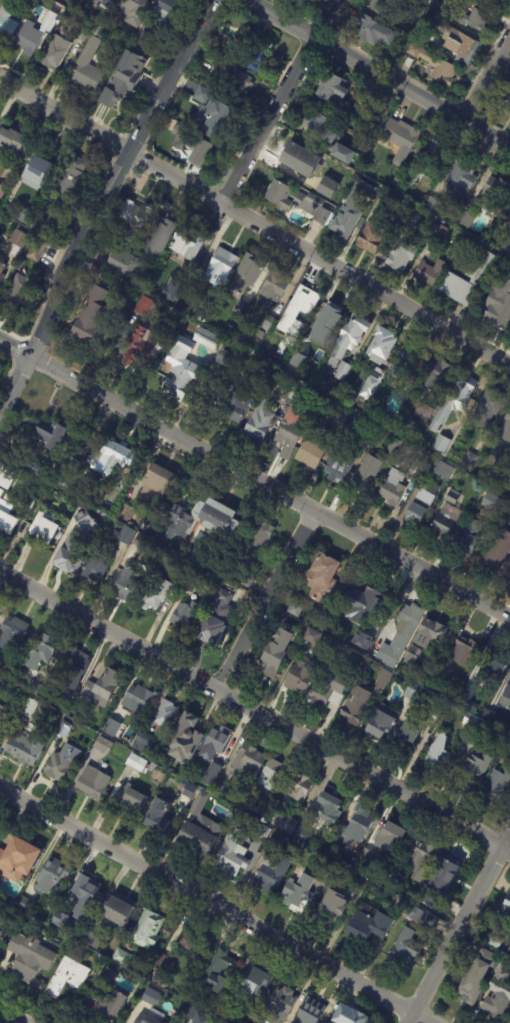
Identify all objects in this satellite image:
building: (114, 0)
building: (40, 1)
building: (451, 1)
building: (492, 1)
building: (424, 2)
building: (297, 3)
building: (378, 6)
building: (164, 9)
building: (132, 10)
building: (419, 13)
building: (6, 18)
building: (474, 21)
building: (48, 22)
building: (373, 32)
building: (82, 35)
building: (421, 38)
building: (28, 40)
building: (92, 41)
building: (144, 42)
building: (461, 45)
building: (413, 52)
building: (56, 53)
building: (253, 53)
building: (129, 66)
building: (438, 70)
road: (383, 73)
building: (87, 76)
building: (233, 79)
building: (508, 80)
road: (488, 82)
building: (331, 88)
building: (117, 92)
road: (279, 99)
building: (386, 100)
building: (508, 104)
building: (213, 111)
building: (376, 123)
building: (325, 133)
building: (400, 140)
building: (13, 142)
building: (365, 144)
building: (192, 145)
building: (435, 155)
building: (309, 164)
building: (39, 166)
building: (461, 174)
road: (120, 177)
building: (405, 179)
building: (70, 180)
building: (362, 189)
building: (2, 190)
building: (494, 195)
building: (298, 199)
building: (434, 206)
building: (507, 209)
building: (399, 211)
building: (23, 216)
road: (256, 217)
building: (412, 217)
building: (348, 220)
building: (130, 221)
building: (467, 221)
building: (45, 224)
building: (440, 231)
building: (157, 236)
building: (18, 238)
building: (371, 238)
building: (186, 243)
building: (506, 244)
building: (38, 250)
building: (1, 254)
building: (401, 255)
building: (122, 264)
building: (428, 269)
building: (1, 272)
building: (248, 274)
building: (217, 276)
building: (453, 279)
building: (172, 287)
building: (275, 287)
building: (18, 291)
building: (499, 305)
building: (144, 306)
building: (239, 309)
building: (299, 309)
building: (89, 316)
building: (201, 317)
building: (328, 318)
building: (265, 324)
building: (350, 335)
building: (205, 336)
building: (277, 344)
building: (140, 345)
building: (382, 346)
building: (225, 357)
building: (404, 360)
building: (293, 364)
building: (180, 375)
building: (434, 375)
building: (339, 376)
building: (280, 377)
road: (14, 383)
building: (369, 388)
building: (274, 389)
building: (272, 396)
building: (290, 397)
building: (454, 400)
building: (236, 404)
building: (489, 408)
building: (274, 409)
building: (373, 412)
building: (423, 413)
building: (259, 421)
building: (356, 422)
building: (338, 423)
building: (291, 424)
building: (406, 428)
building: (505, 429)
building: (51, 436)
building: (441, 443)
building: (394, 446)
building: (311, 452)
building: (112, 458)
building: (420, 459)
building: (470, 459)
building: (503, 460)
building: (339, 465)
building: (441, 467)
building: (37, 468)
building: (367, 473)
building: (6, 474)
building: (158, 477)
building: (66, 479)
road: (254, 479)
building: (393, 487)
building: (0, 490)
building: (452, 497)
building: (490, 499)
building: (422, 503)
building: (6, 517)
building: (201, 518)
building: (445, 519)
building: (84, 520)
building: (503, 524)
building: (43, 526)
building: (123, 534)
building: (156, 535)
building: (468, 536)
building: (259, 542)
building: (495, 549)
building: (68, 553)
building: (97, 562)
building: (507, 573)
building: (322, 578)
building: (192, 582)
building: (125, 589)
building: (158, 590)
building: (375, 595)
road: (265, 602)
building: (346, 604)
building: (295, 608)
building: (186, 615)
building: (216, 620)
building: (12, 631)
building: (429, 632)
building: (399, 634)
building: (311, 635)
building: (368, 635)
building: (363, 643)
building: (463, 650)
building: (40, 652)
building: (275, 653)
building: (411, 654)
building: (497, 664)
building: (72, 666)
building: (439, 672)
building: (383, 678)
building: (299, 679)
building: (101, 686)
building: (34, 687)
building: (507, 689)
building: (328, 690)
building: (412, 691)
building: (135, 698)
building: (465, 698)
building: (67, 703)
building: (355, 703)
building: (509, 704)
building: (27, 706)
building: (442, 706)
road: (254, 712)
building: (4, 717)
building: (487, 717)
building: (469, 719)
building: (381, 721)
building: (157, 723)
building: (111, 728)
building: (63, 729)
building: (409, 730)
building: (184, 737)
building: (507, 741)
building: (103, 745)
building: (25, 749)
building: (215, 751)
building: (438, 751)
building: (505, 753)
building: (60, 762)
building: (249, 762)
building: (139, 763)
building: (474, 768)
building: (269, 781)
building: (92, 782)
building: (496, 782)
building: (299, 787)
building: (221, 788)
building: (188, 789)
building: (127, 803)
building: (328, 809)
building: (158, 816)
building: (264, 819)
building: (282, 821)
building: (355, 827)
building: (197, 829)
building: (258, 830)
building: (303, 835)
building: (390, 835)
building: (275, 841)
building: (232, 853)
building: (420, 858)
building: (17, 860)
building: (327, 866)
building: (270, 872)
building: (51, 875)
building: (441, 879)
building: (358, 883)
building: (84, 890)
building: (297, 893)
road: (218, 904)
building: (24, 905)
building: (506, 907)
building: (330, 909)
building: (119, 911)
building: (420, 916)
building: (57, 923)
building: (369, 926)
road: (460, 928)
building: (3, 929)
building: (146, 929)
building: (163, 936)
building: (91, 941)
building: (495, 941)
building: (189, 942)
building: (509, 948)
building: (402, 951)
building: (120, 957)
building: (29, 958)
building: (162, 963)
building: (503, 966)
building: (218, 973)
building: (67, 977)
building: (254, 984)
building: (470, 986)
building: (193, 994)
building: (150, 997)
building: (105, 998)
building: (497, 1001)
building: (280, 1005)
building: (310, 1012)
building: (194, 1015)
building: (352, 1015)
road: (11, 1016)
building: (145, 1019)
building: (163, 1022)
building: (509, 1022)

